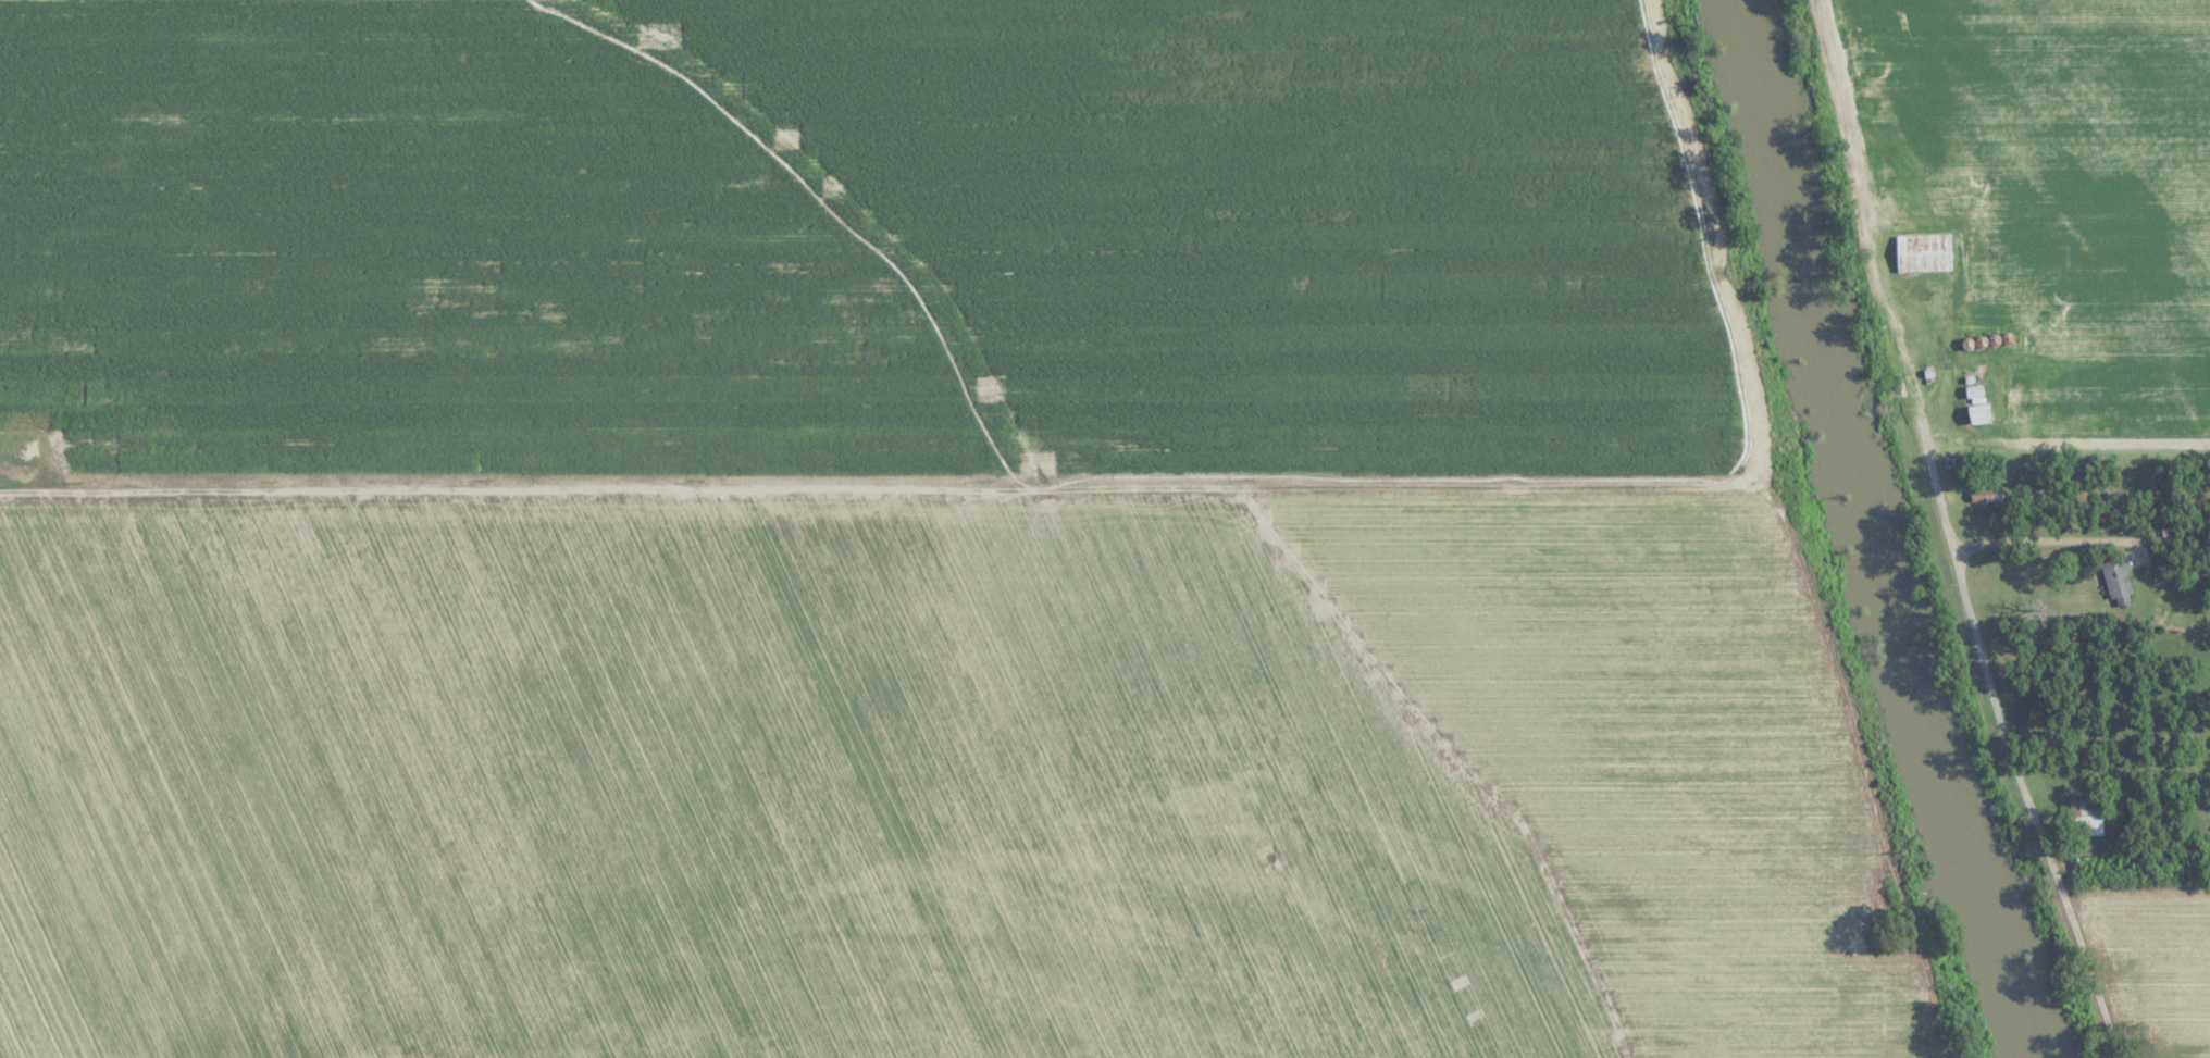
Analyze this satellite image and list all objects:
building: (1924, 253)
building: (1979, 414)
road: (1183, 489)
river: (1871, 532)
road: (1951, 533)
building: (2119, 582)
building: (2087, 819)

